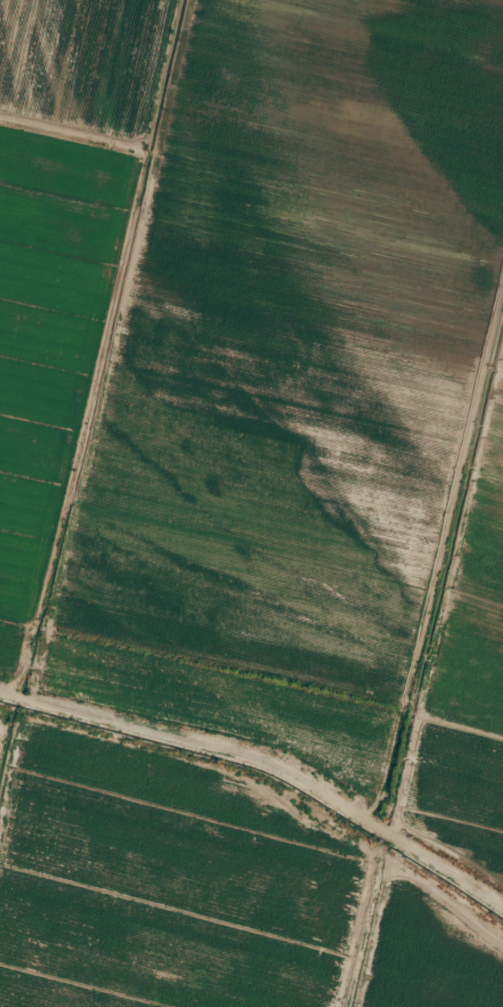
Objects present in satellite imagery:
road: (269, 769)

